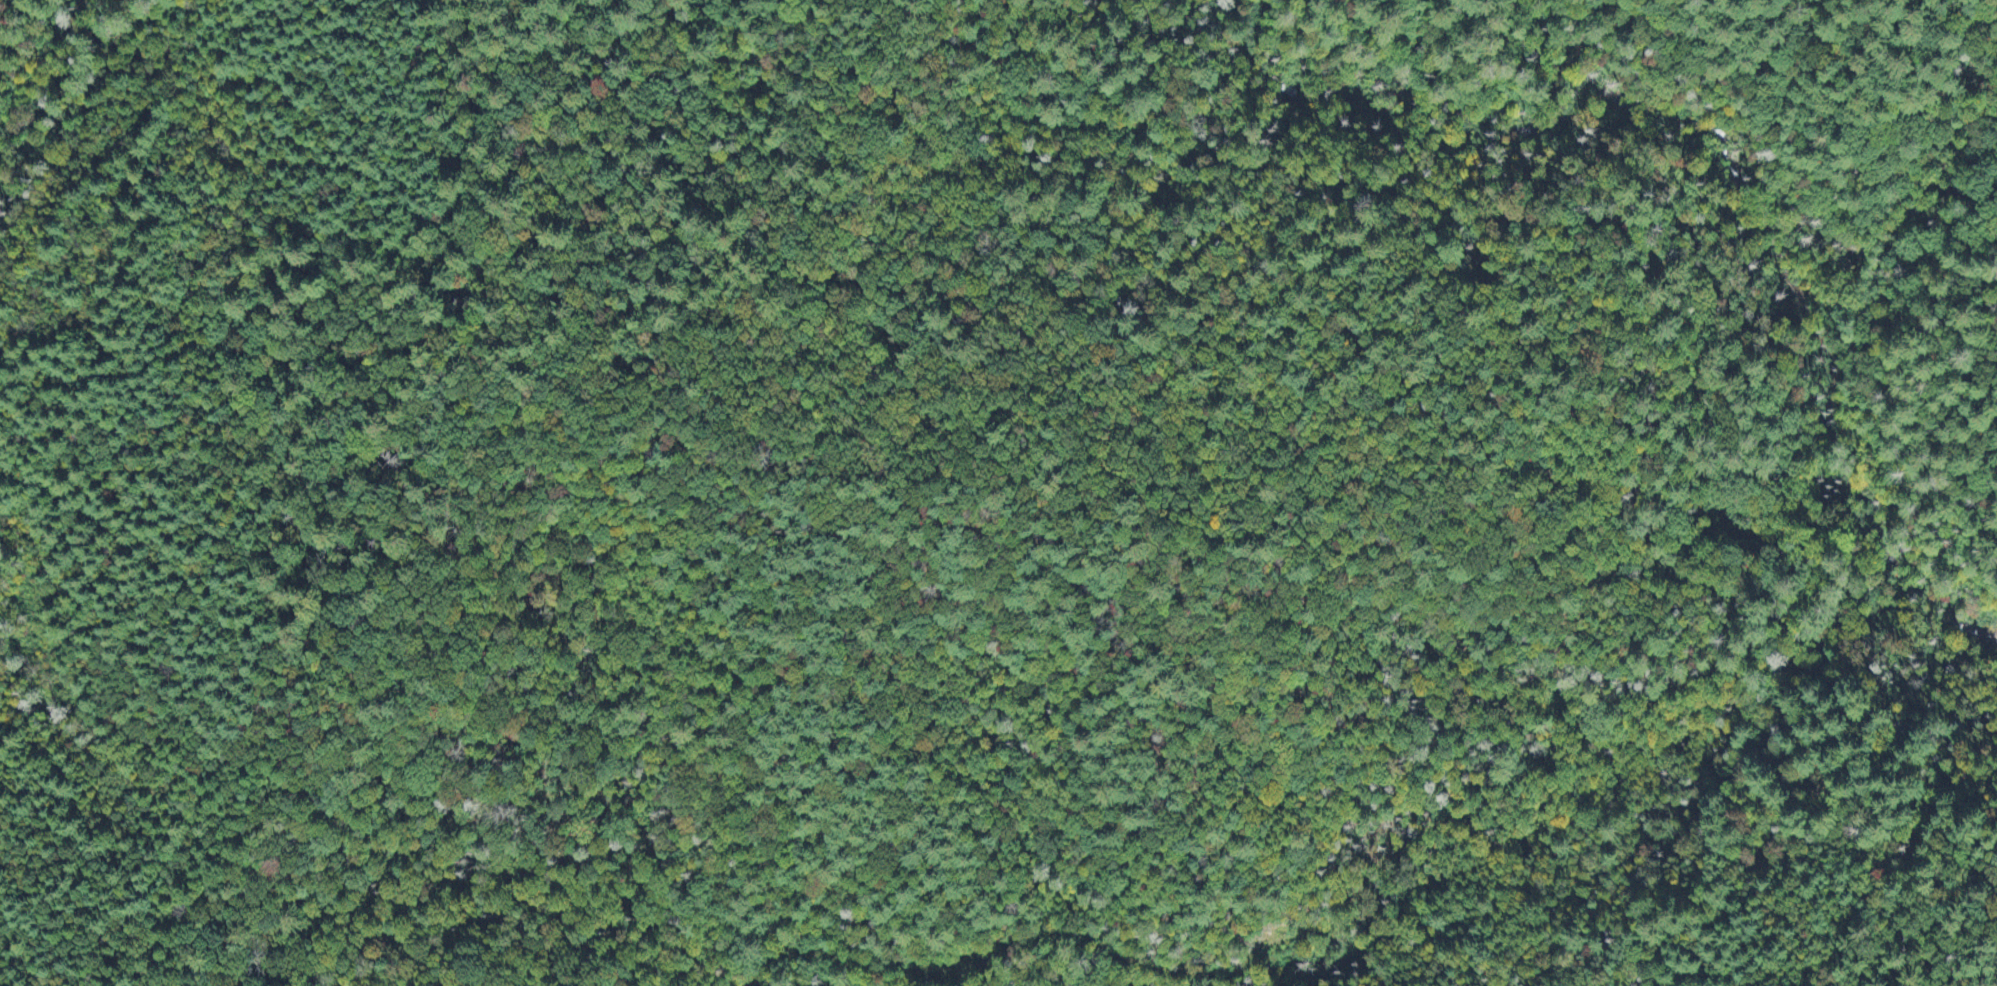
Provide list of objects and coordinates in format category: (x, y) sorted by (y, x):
road: (1686, 598)

